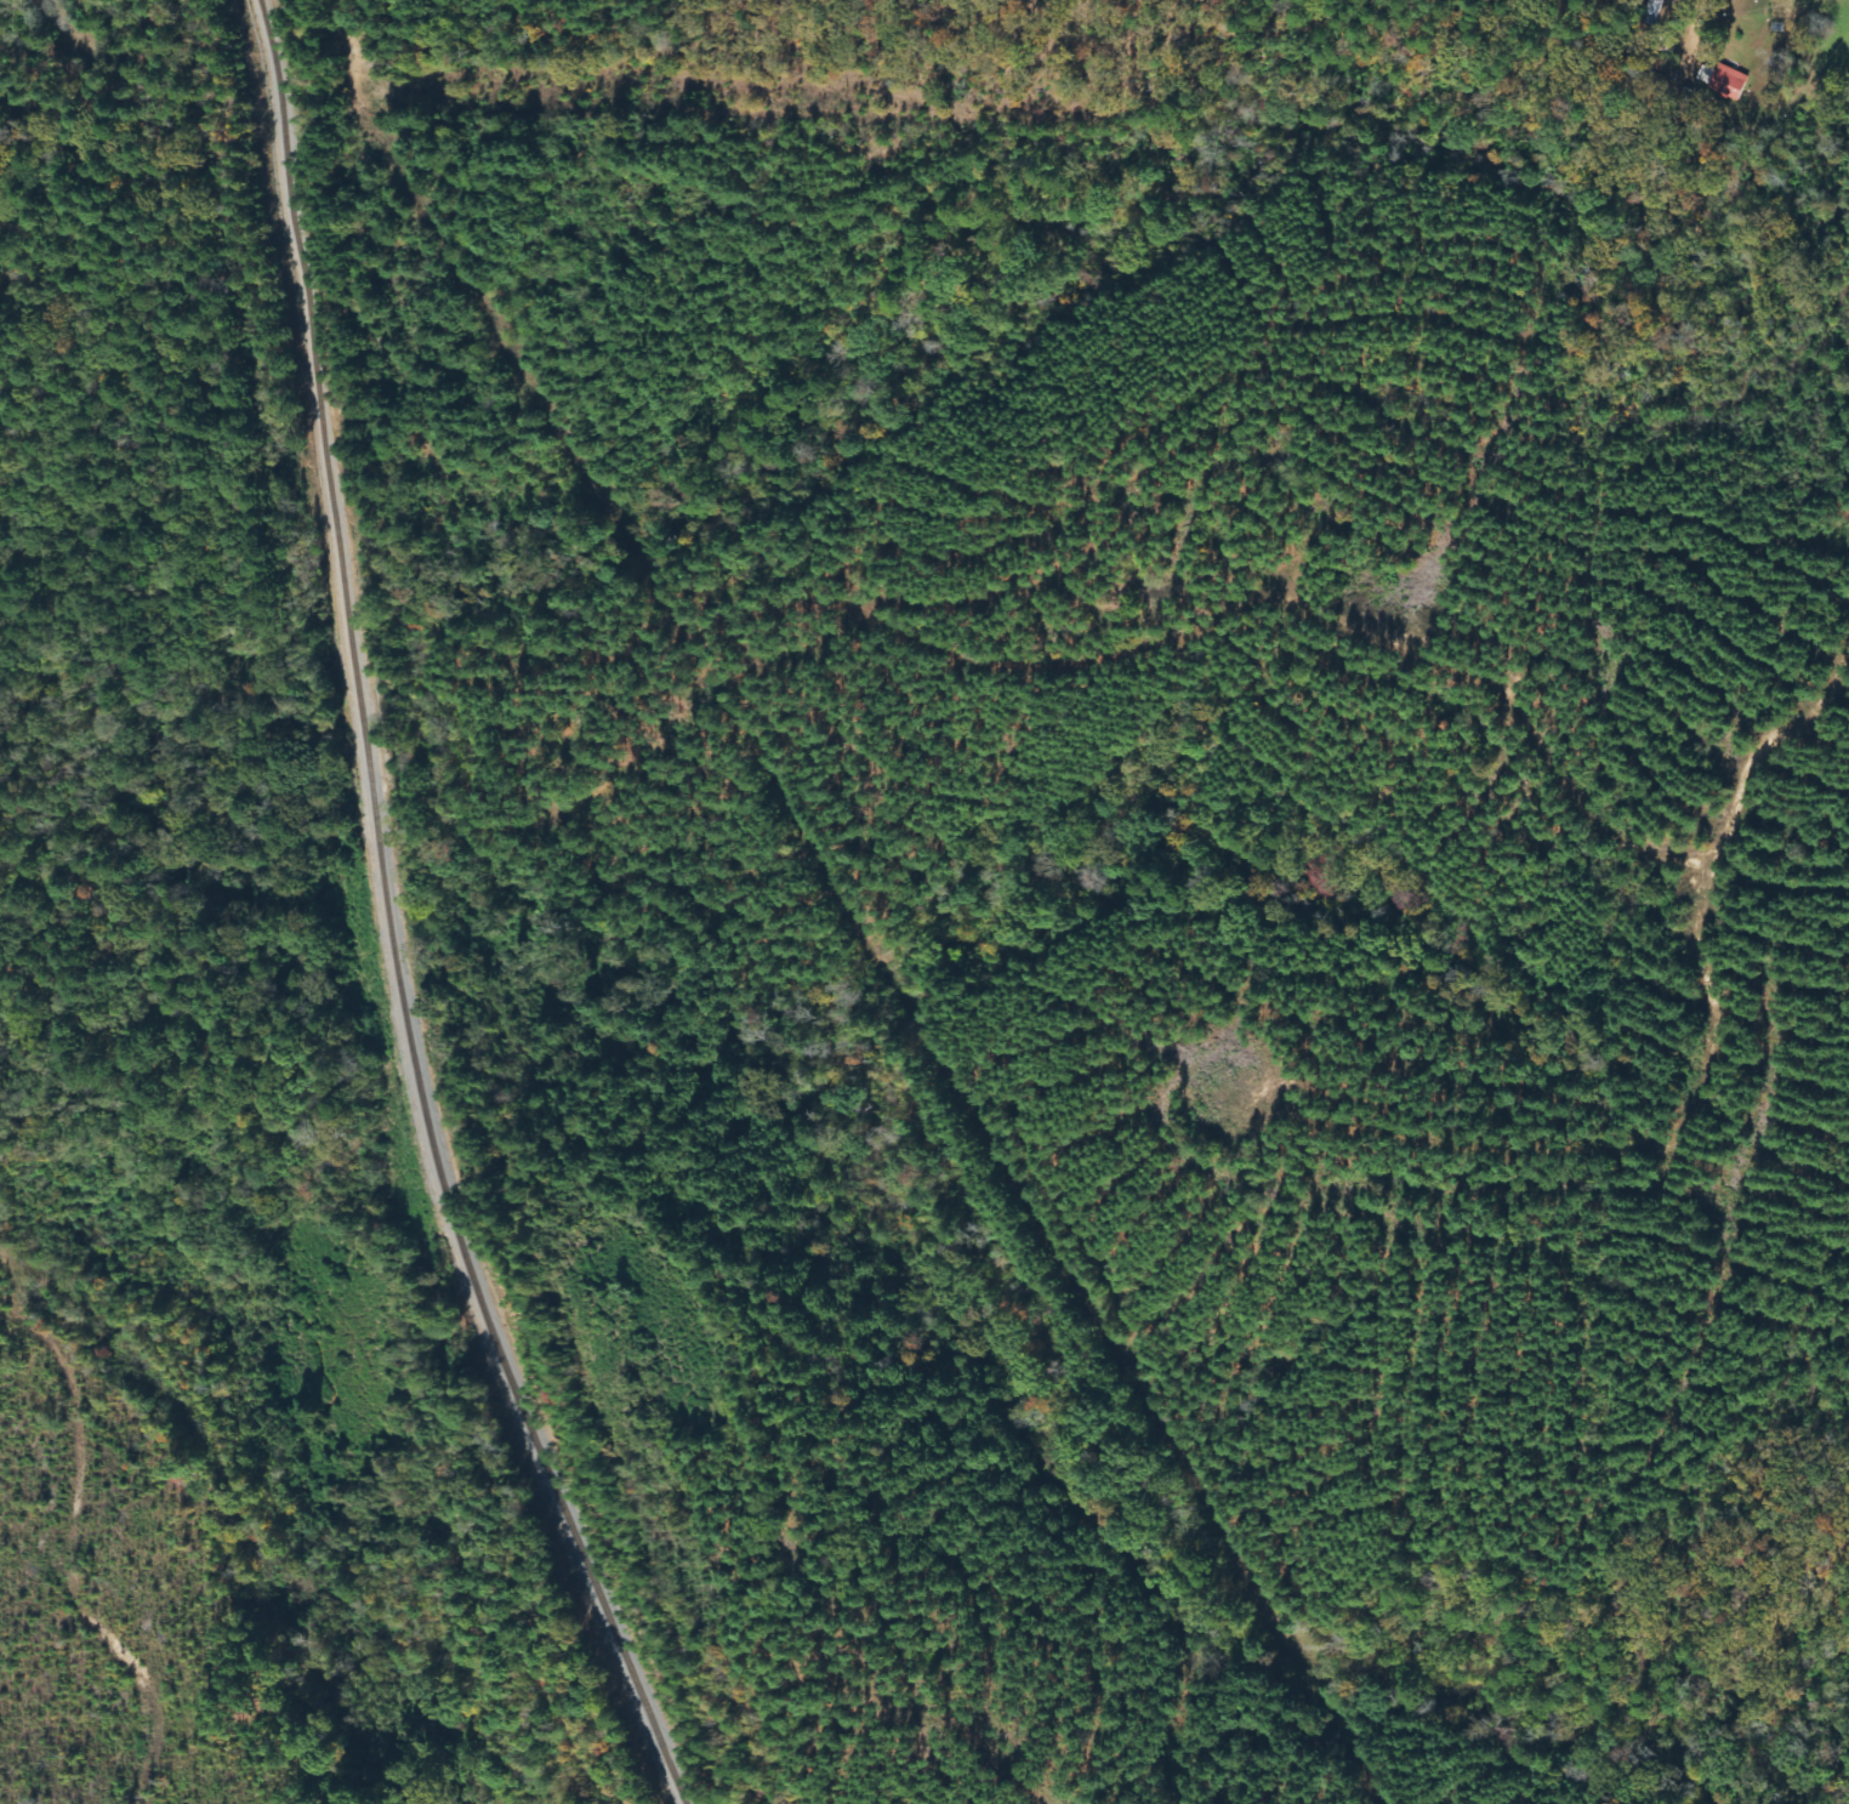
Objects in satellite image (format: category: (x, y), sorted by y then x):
building: (1720, 79)
railway: (402, 918)

